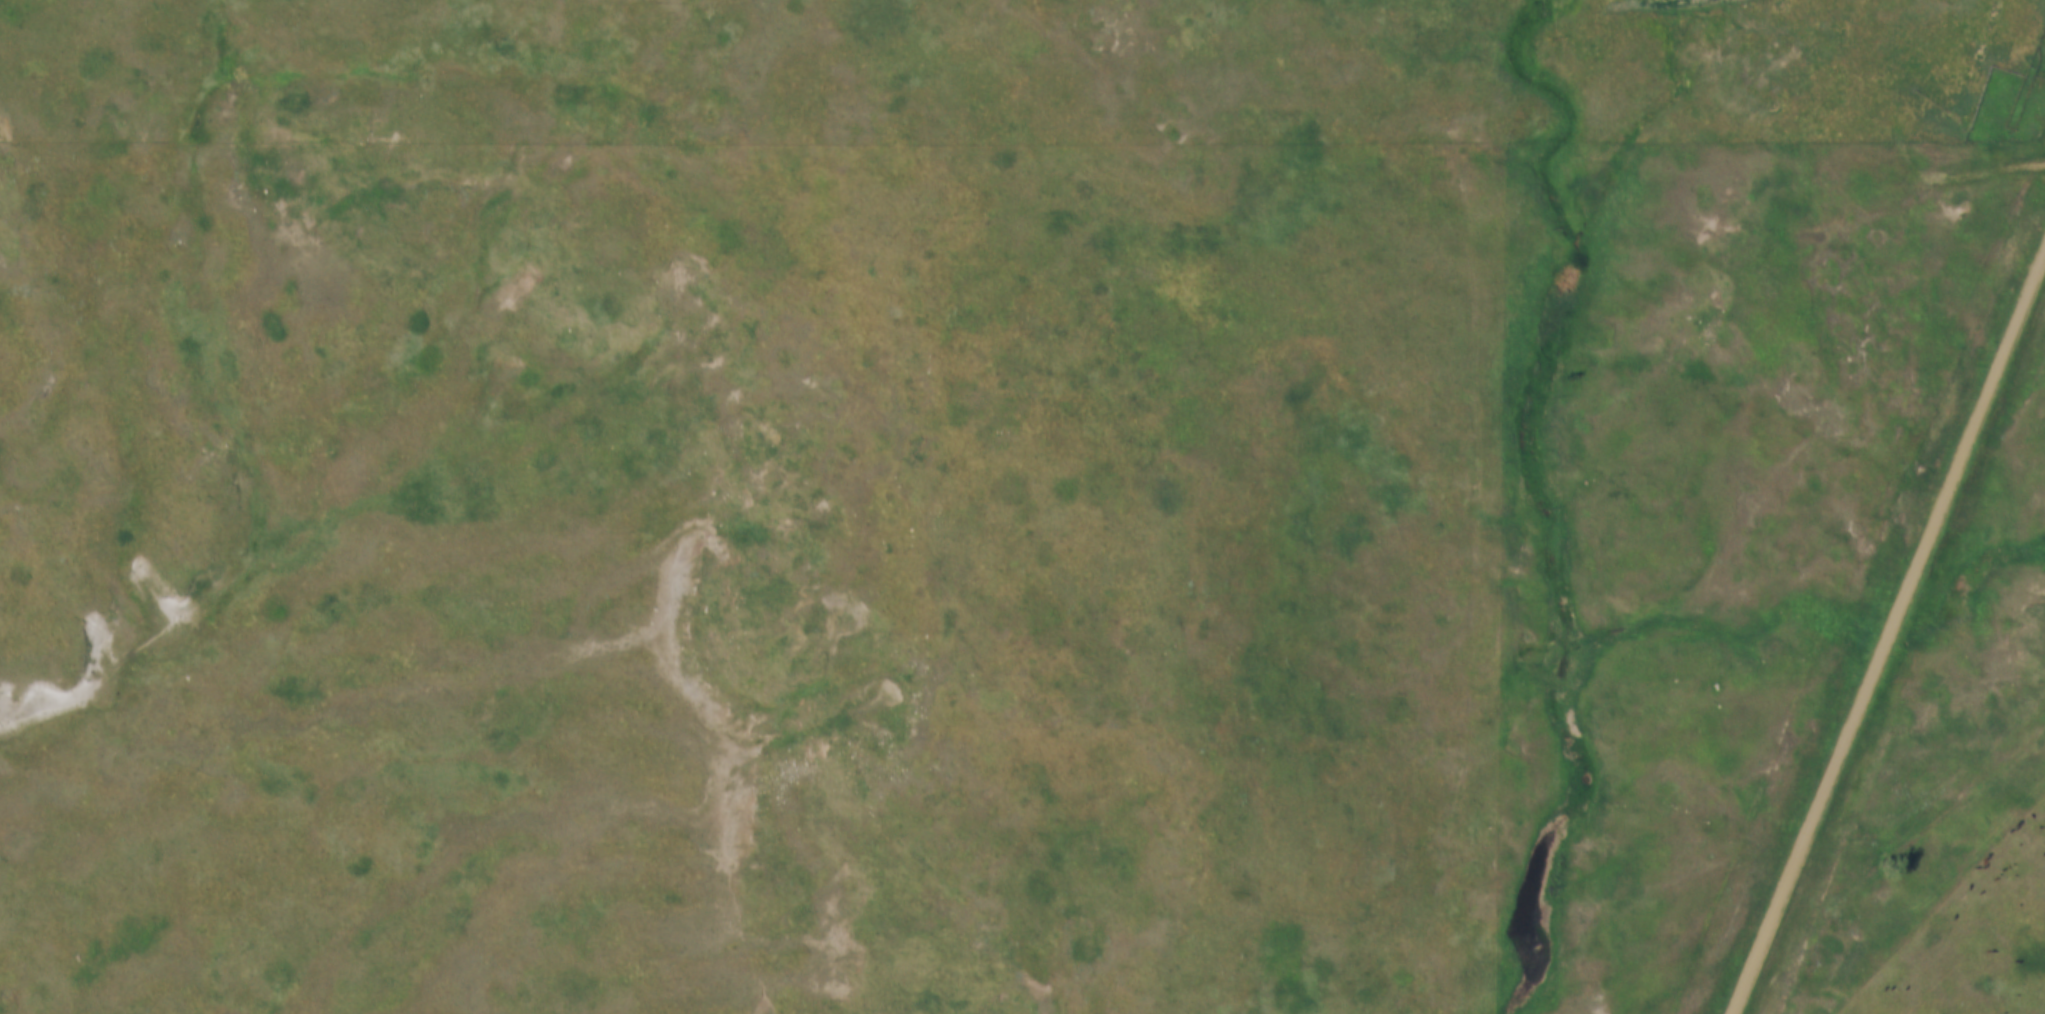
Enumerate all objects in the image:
road: (1889, 634)

